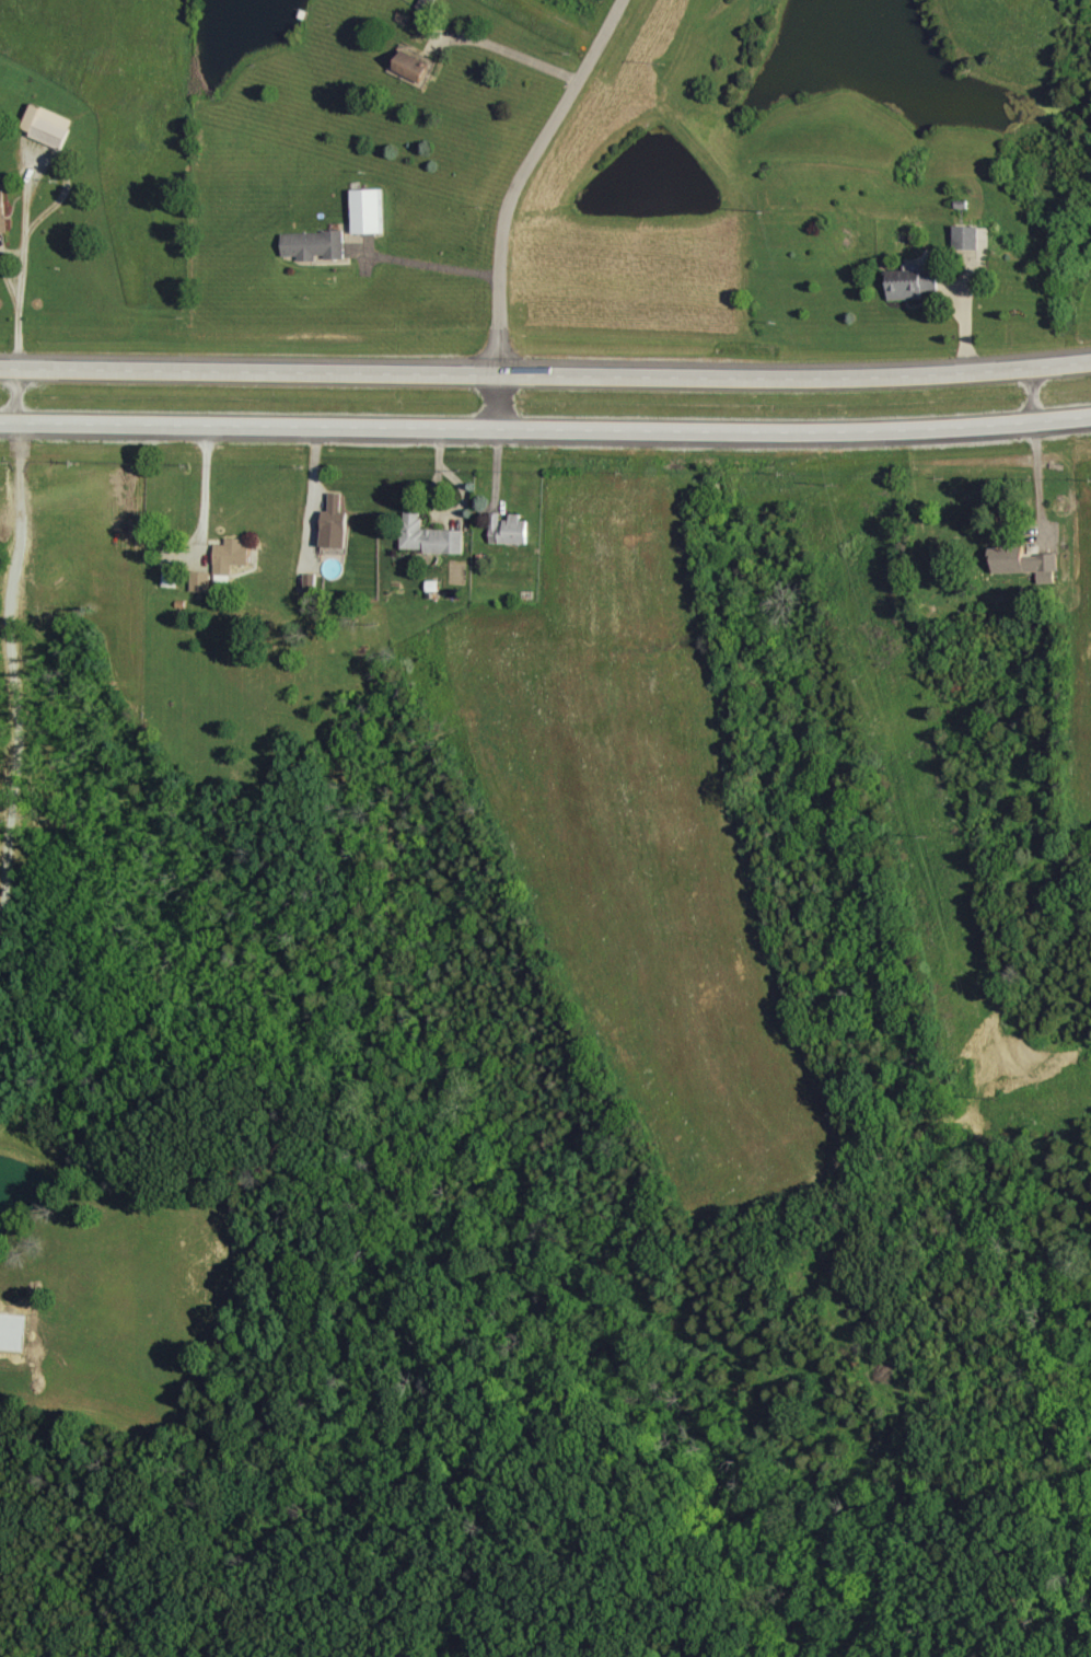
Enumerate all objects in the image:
road: (502, 58)
building: (411, 65)
building: (47, 125)
road: (510, 201)
building: (367, 210)
building: (971, 237)
building: (314, 244)
road: (430, 266)
building: (915, 283)
road: (13, 303)
road: (545, 376)
road: (1032, 398)
road: (545, 432)
road: (1034, 488)
road: (201, 489)
building: (334, 522)
building: (508, 530)
building: (429, 536)
building: (230, 555)
building: (1030, 566)
building: (200, 581)
building: (311, 582)

